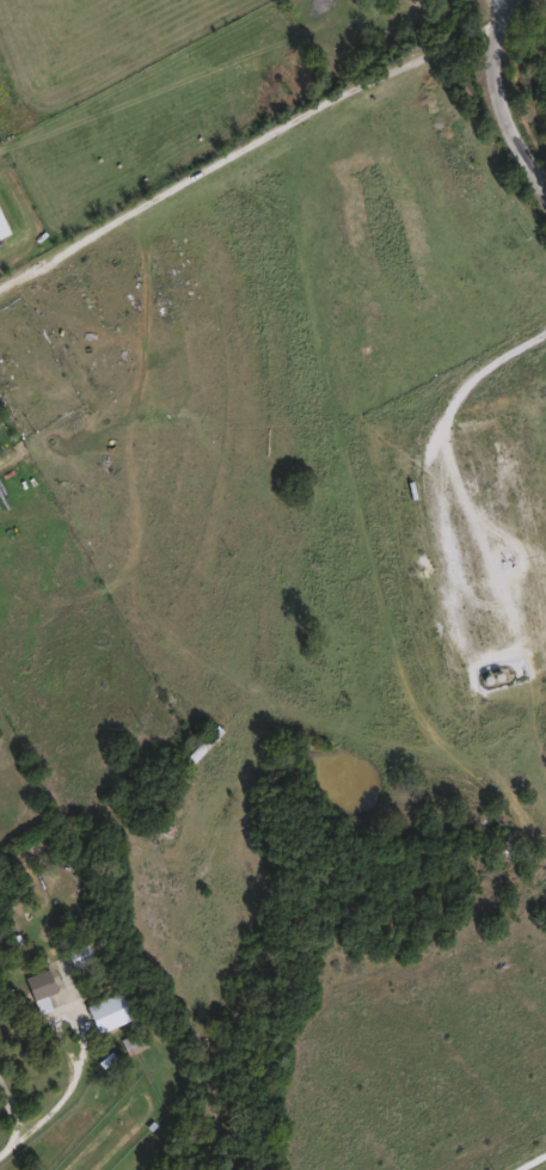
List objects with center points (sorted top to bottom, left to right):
road: (502, 90)
road: (246, 142)
road: (435, 442)
building: (202, 743)
building: (76, 954)
building: (38, 982)
building: (131, 1041)
road: (69, 1091)
road: (12, 1109)
road: (14, 1143)
road: (529, 1160)

